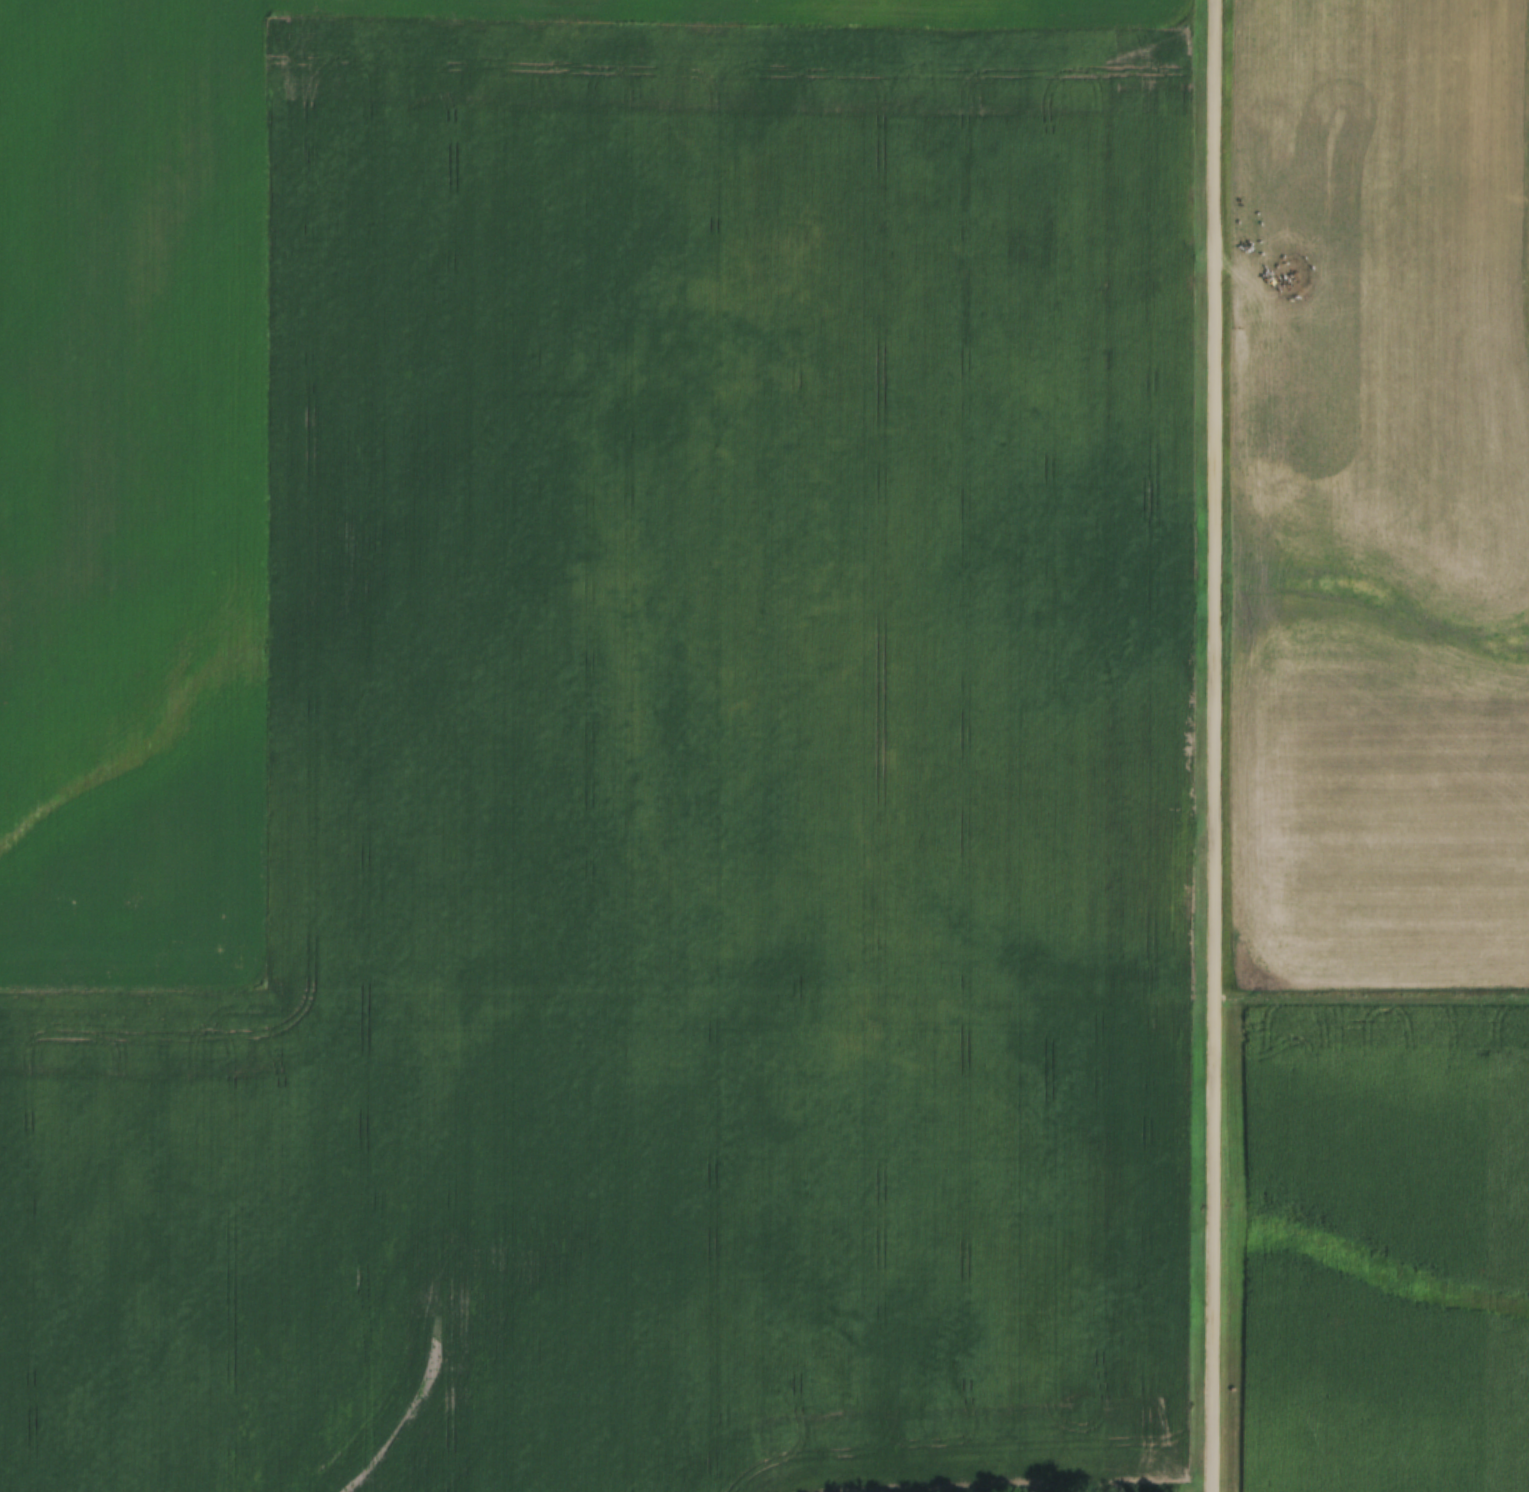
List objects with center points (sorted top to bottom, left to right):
road: (1216, 746)

